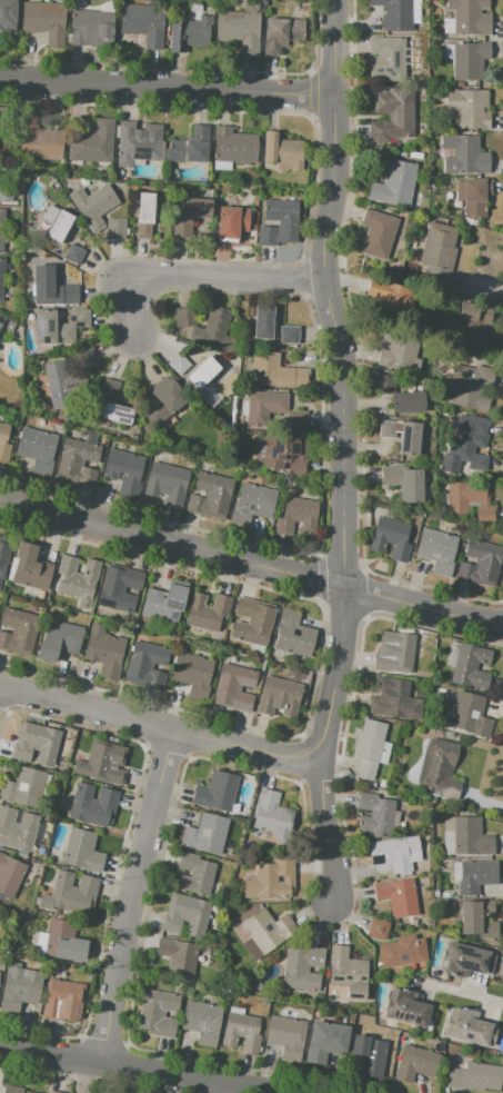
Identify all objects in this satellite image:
building: (7, 14)
building: (394, 14)
building: (469, 17)
building: (44, 20)
building: (142, 22)
building: (91, 28)
building: (240, 28)
building: (190, 32)
building: (281, 33)
building: (388, 58)
building: (470, 61)
road: (168, 87)
building: (467, 108)
building: (392, 116)
building: (1, 117)
building: (39, 140)
building: (138, 142)
building: (92, 143)
building: (191, 147)
building: (233, 147)
building: (283, 151)
building: (464, 155)
building: (394, 183)
building: (6, 195)
building: (474, 197)
building: (93, 206)
building: (144, 215)
building: (189, 215)
building: (232, 221)
building: (56, 222)
building: (279, 222)
building: (1, 228)
building: (115, 228)
building: (376, 233)
building: (441, 249)
building: (73, 252)
building: (1, 278)
road: (198, 278)
building: (52, 286)
road: (328, 295)
building: (388, 296)
building: (0, 324)
building: (262, 325)
building: (471, 325)
building: (59, 326)
building: (209, 328)
building: (399, 350)
building: (178, 364)
building: (276, 371)
building: (203, 377)
building: (62, 384)
building: (465, 387)
building: (110, 388)
building: (399, 396)
building: (163, 400)
building: (273, 409)
building: (117, 414)
building: (402, 435)
building: (3, 443)
building: (462, 443)
building: (37, 448)
building: (283, 453)
building: (77, 461)
building: (123, 470)
building: (164, 483)
building: (404, 483)
building: (210, 495)
building: (470, 500)
building: (252, 503)
building: (298, 515)
building: (391, 538)
road: (172, 546)
building: (436, 550)
building: (4, 554)
building: (480, 563)
building: (30, 567)
building: (78, 579)
building: (119, 587)
building: (164, 603)
road: (424, 607)
building: (207, 612)
building: (253, 620)
building: (19, 630)
building: (294, 634)
building: (59, 639)
building: (395, 650)
building: (104, 652)
building: (467, 664)
building: (147, 665)
building: (192, 674)
road: (334, 675)
building: (234, 687)
building: (279, 696)
building: (394, 698)
building: (469, 714)
road: (153, 726)
building: (36, 743)
building: (368, 747)
building: (102, 762)
building: (437, 767)
building: (23, 787)
building: (217, 791)
building: (93, 805)
building: (374, 814)
building: (273, 816)
road: (329, 827)
building: (18, 828)
building: (205, 834)
building: (471, 837)
building: (82, 851)
building: (396, 853)
building: (10, 874)
building: (194, 874)
building: (475, 876)
building: (280, 878)
building: (270, 881)
building: (69, 892)
building: (398, 895)
road: (132, 896)
building: (187, 914)
building: (477, 920)
building: (376, 928)
building: (265, 932)
building: (64, 941)
building: (402, 951)
building: (178, 957)
building: (464, 960)
building: (302, 967)
building: (348, 972)
building: (20, 990)
road: (457, 994)
building: (61, 997)
building: (406, 1007)
building: (158, 1013)
building: (202, 1021)
building: (469, 1027)
building: (241, 1032)
building: (286, 1036)
building: (325, 1041)
building: (369, 1055)
building: (415, 1063)
road: (131, 1069)
building: (475, 1076)
building: (13, 1091)
building: (33, 1092)

